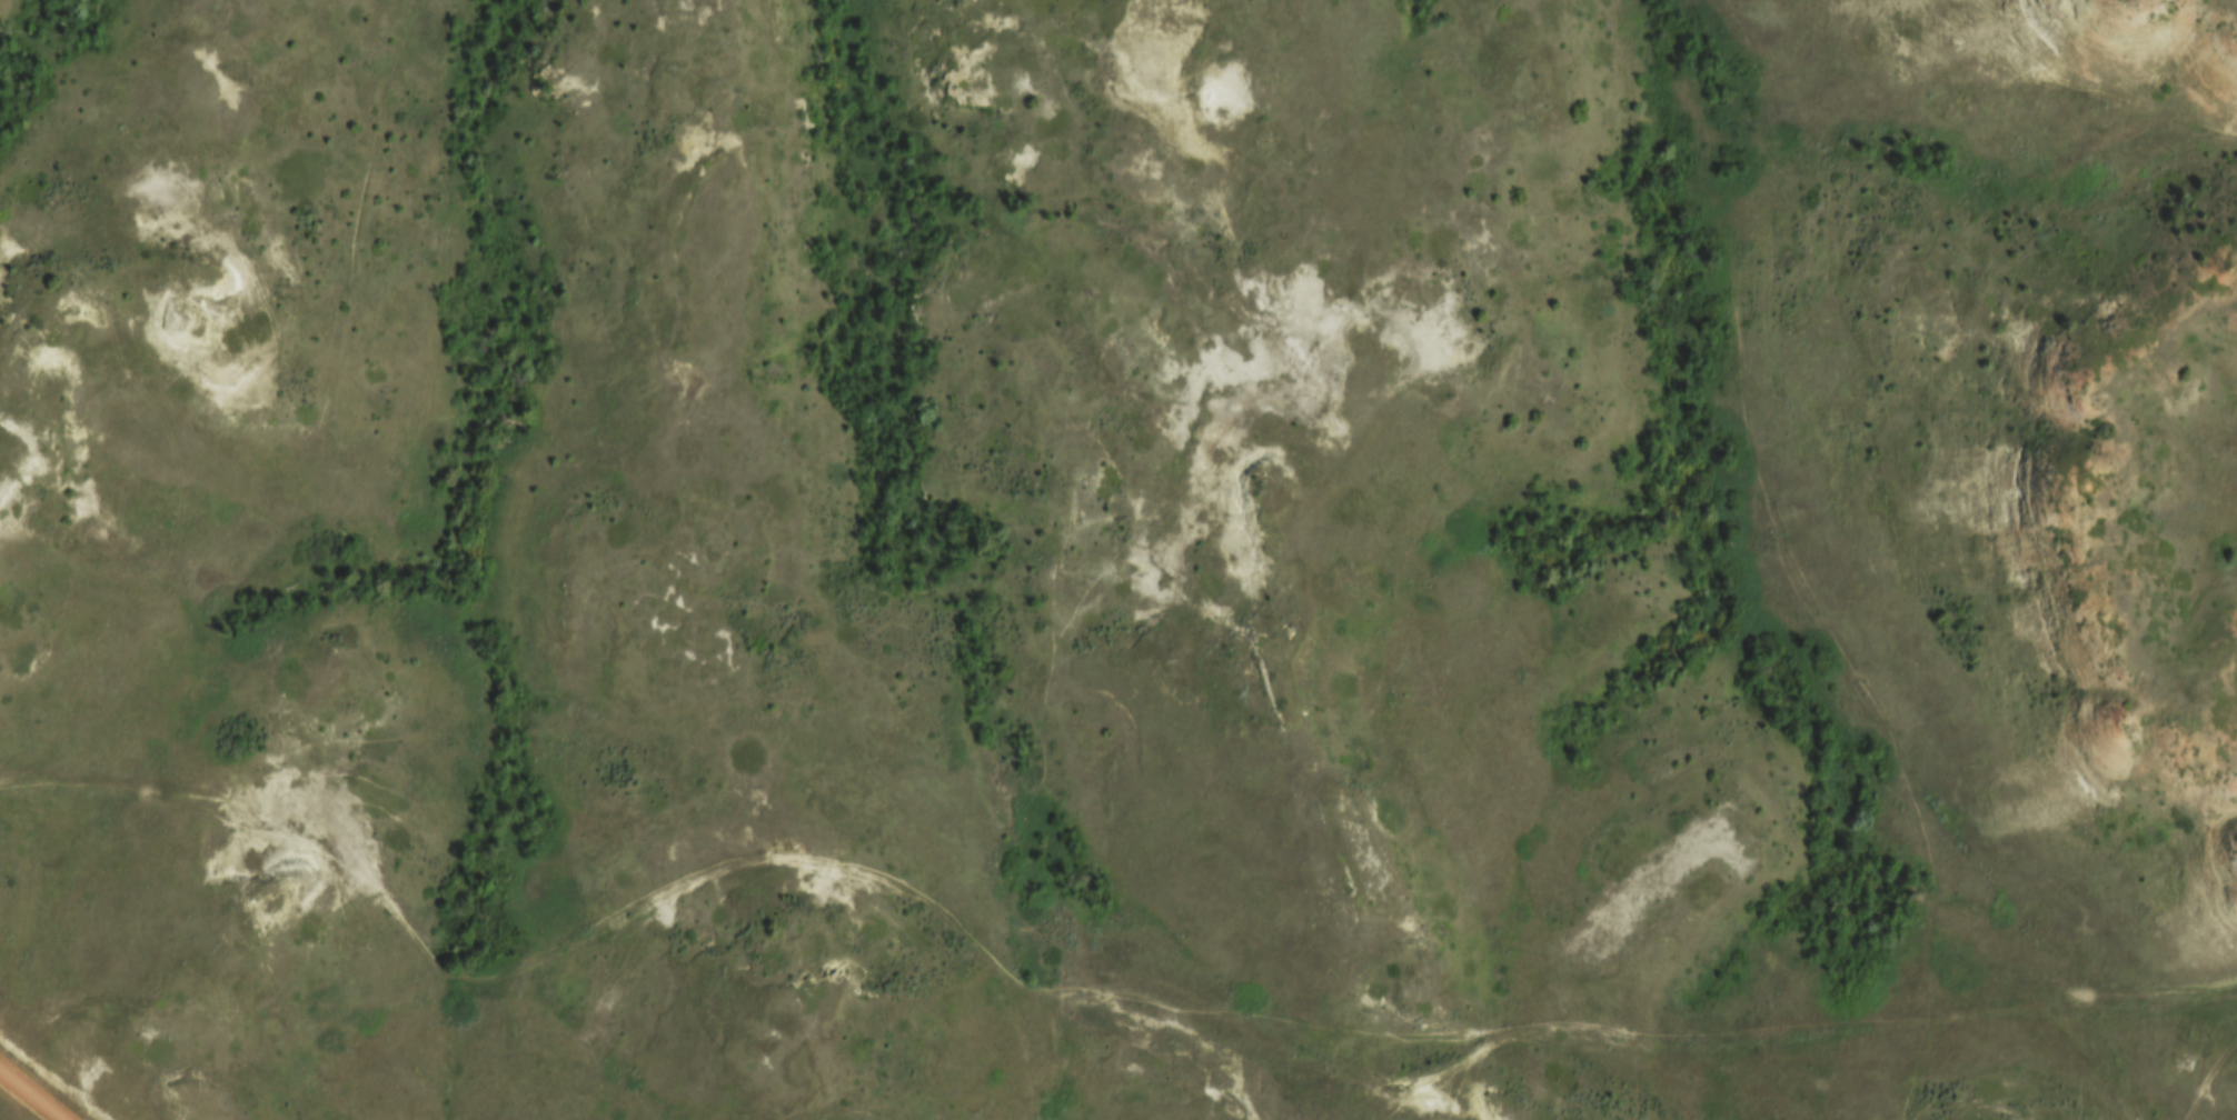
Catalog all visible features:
road: (1065, 996)
road: (30, 1096)

